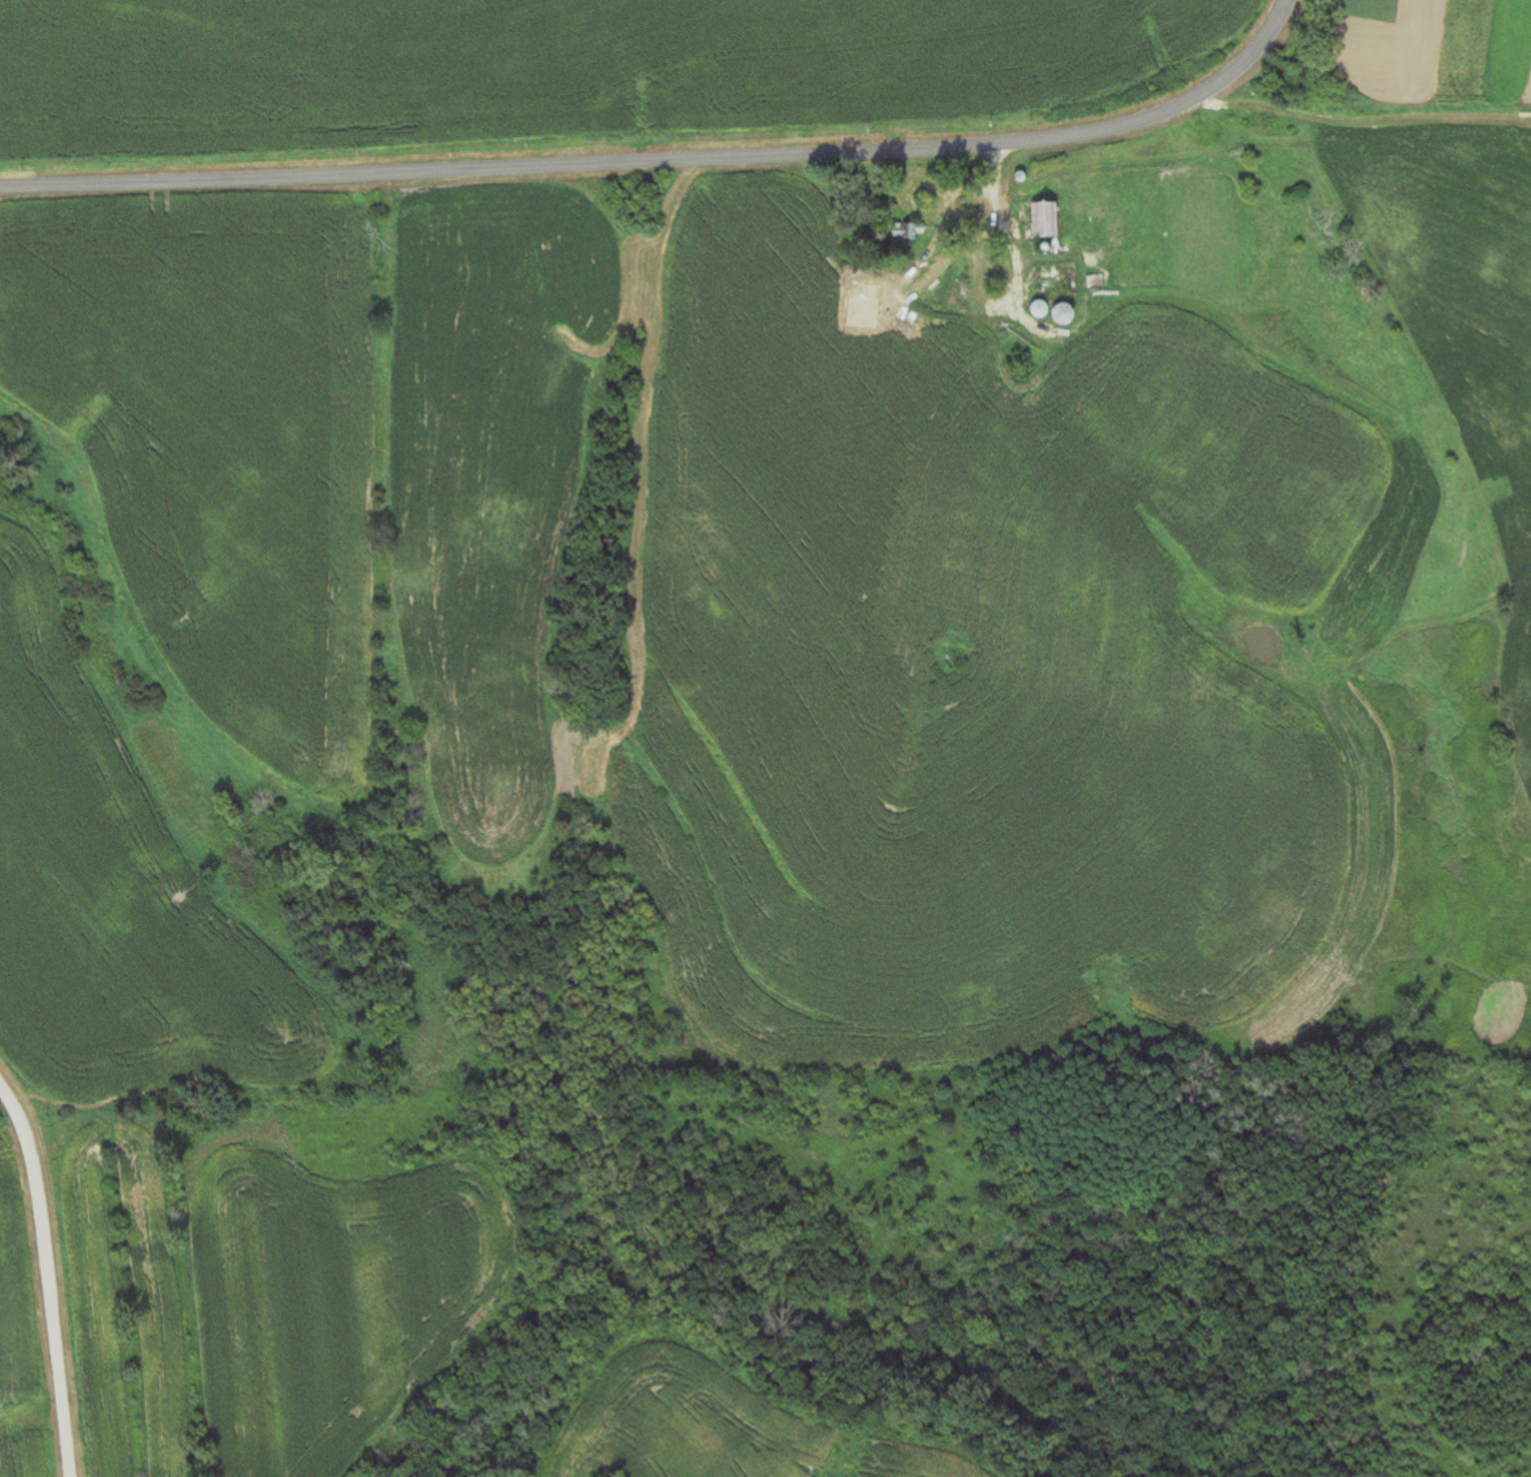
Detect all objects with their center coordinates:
road: (669, 158)
building: (1036, 221)
building: (904, 235)
building: (1047, 280)
road: (46, 1277)

